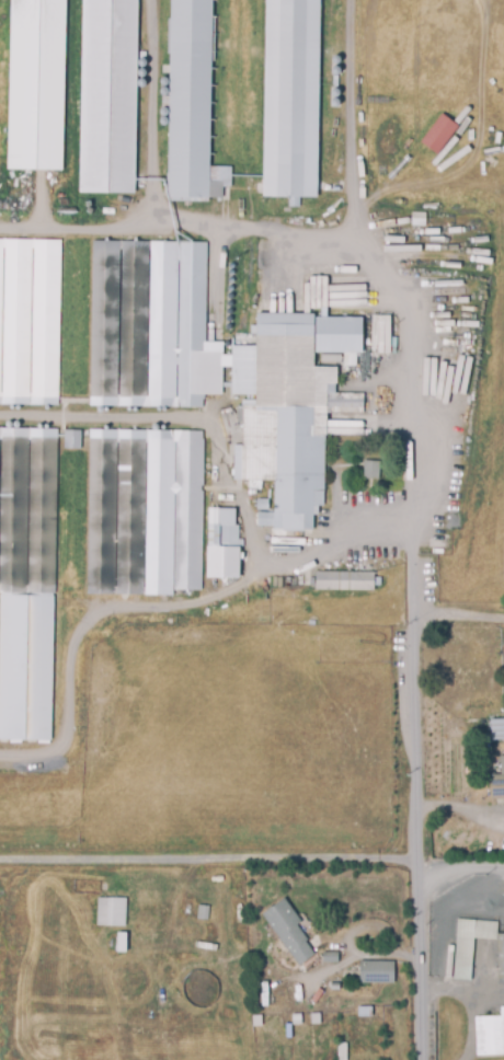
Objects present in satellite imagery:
building: (34, 84)
building: (106, 95)
building: (289, 100)
building: (192, 104)
road: (348, 124)
building: (436, 132)
road: (154, 212)
road: (81, 220)
building: (30, 321)
building: (148, 322)
building: (287, 422)
road: (416, 426)
building: (70, 438)
building: (371, 469)
building: (27, 509)
building: (147, 509)
building: (225, 533)
building: (344, 580)
road: (159, 604)
road: (458, 615)
building: (26, 668)
building: (499, 729)
building: (496, 785)
road: (461, 809)
road: (417, 842)
road: (209, 859)
road: (461, 873)
building: (111, 913)
building: (202, 913)
building: (288, 930)
building: (470, 944)
road: (357, 954)
building: (500, 956)
building: (331, 957)
building: (377, 971)
road: (461, 994)
road: (470, 1024)
building: (490, 1035)

